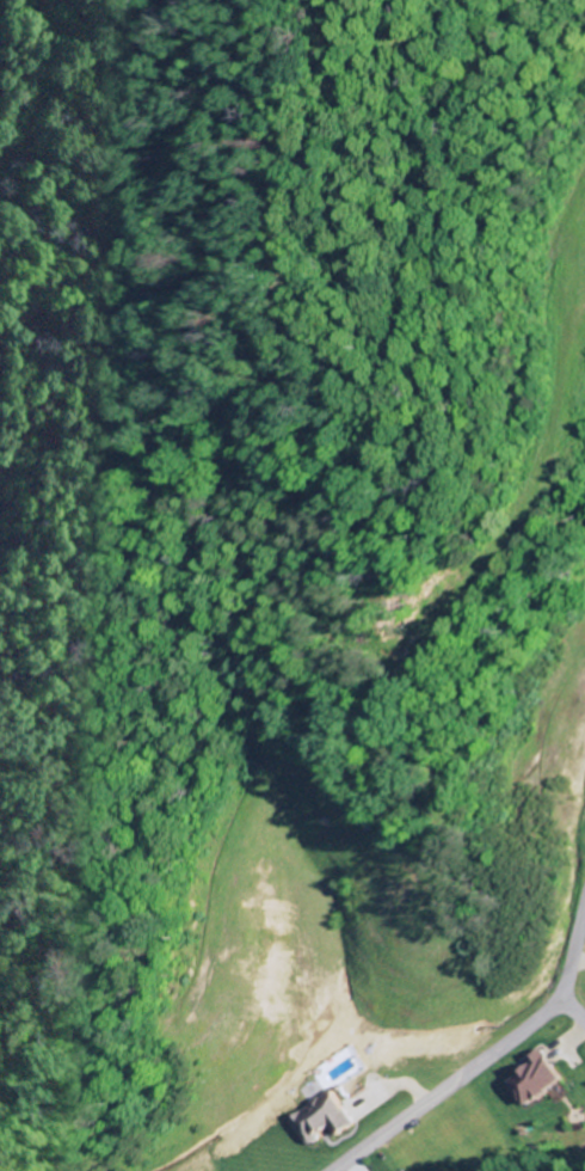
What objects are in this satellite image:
road: (567, 955)
road: (460, 1078)
building: (532, 1079)
building: (322, 1116)

